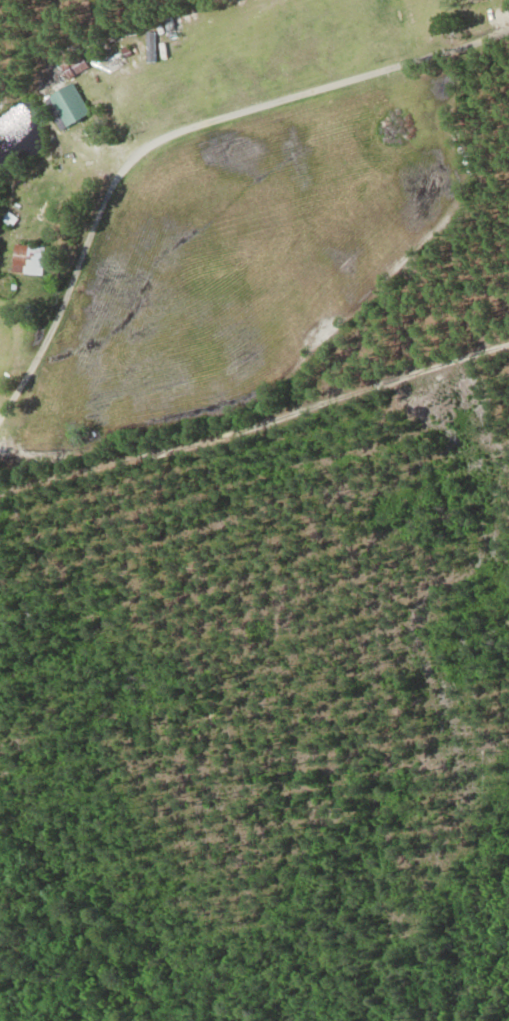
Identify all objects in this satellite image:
building: (78, 66)
building: (72, 106)
road: (177, 131)
building: (31, 259)
road: (257, 426)

